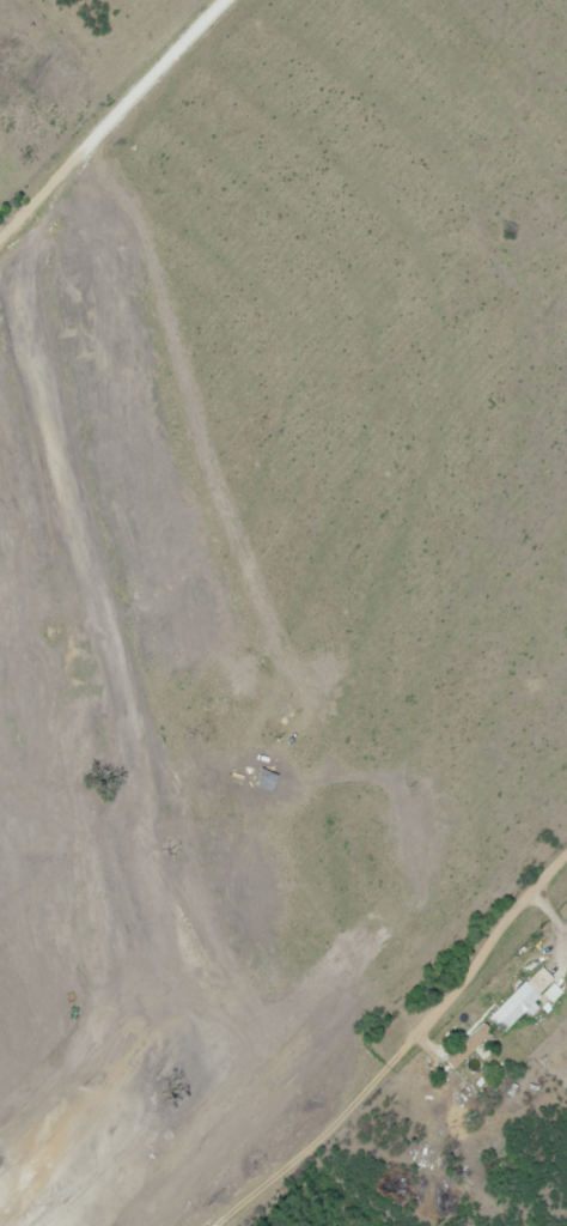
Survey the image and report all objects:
road: (112, 115)
building: (563, 919)
building: (514, 1008)
building: (469, 1046)
road: (403, 1058)

